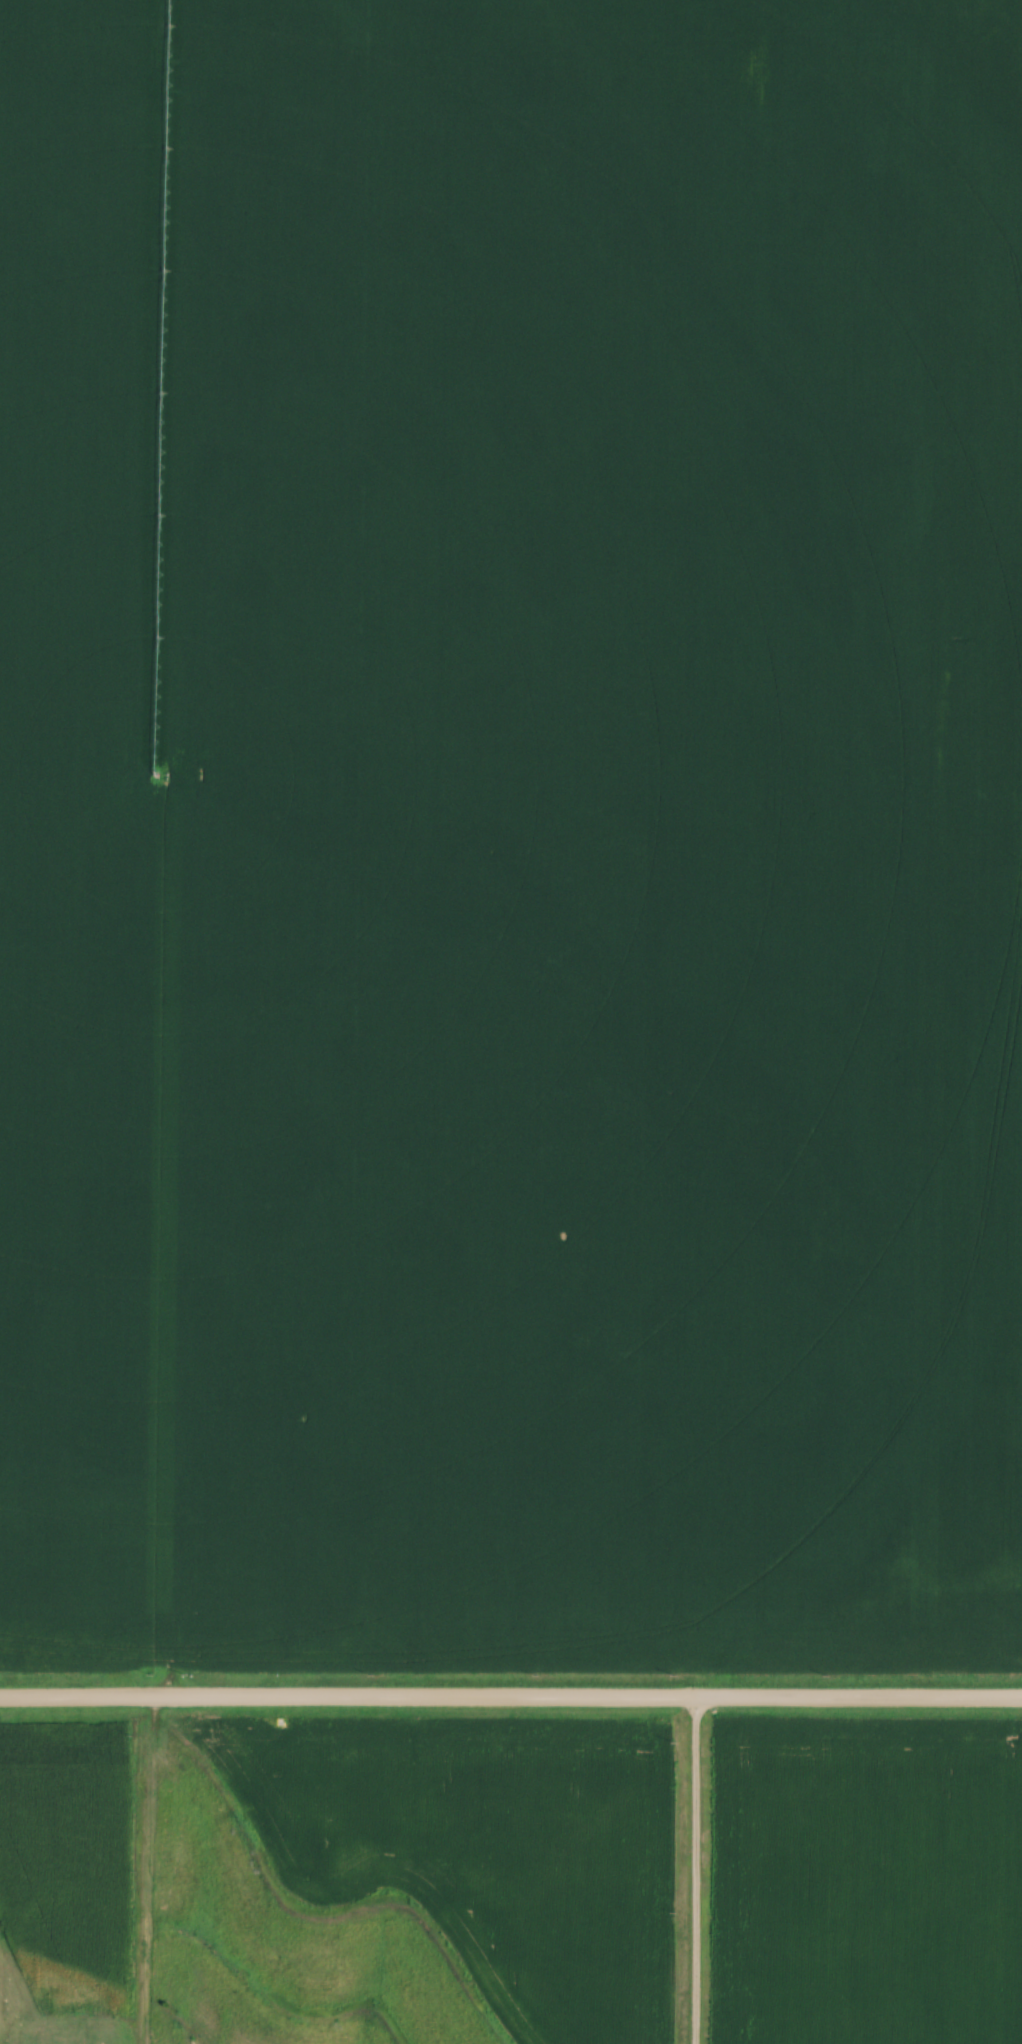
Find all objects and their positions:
road: (511, 1702)
road: (695, 1873)

